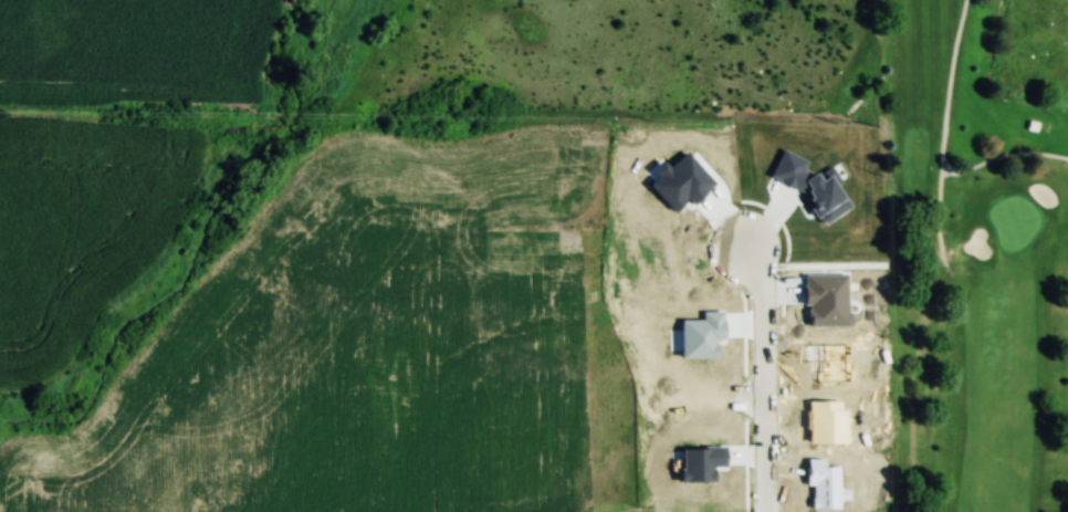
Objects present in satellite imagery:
road: (942, 133)
road: (1004, 156)
park: (976, 254)
crop: (360, 349)

